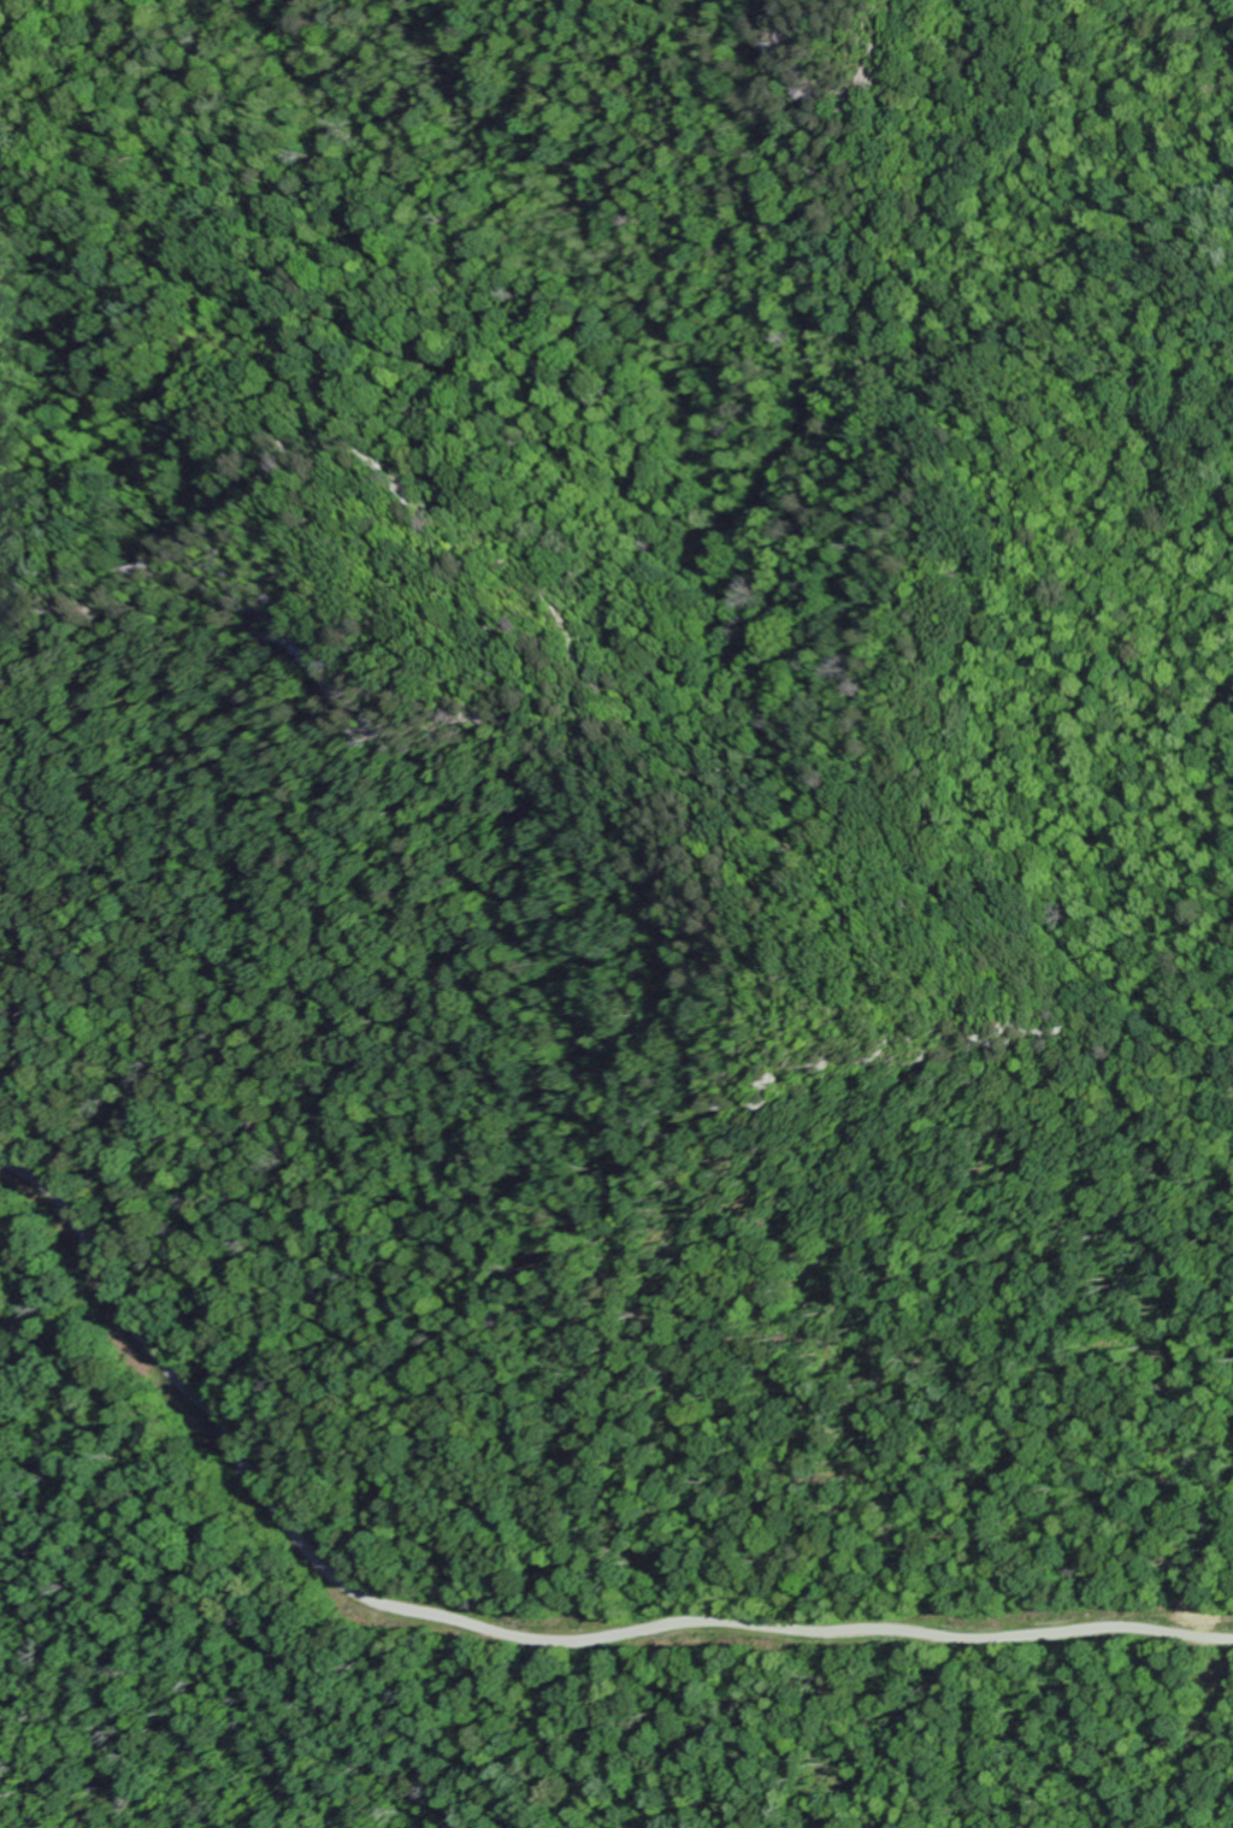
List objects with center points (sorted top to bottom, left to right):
road: (509, 1633)

